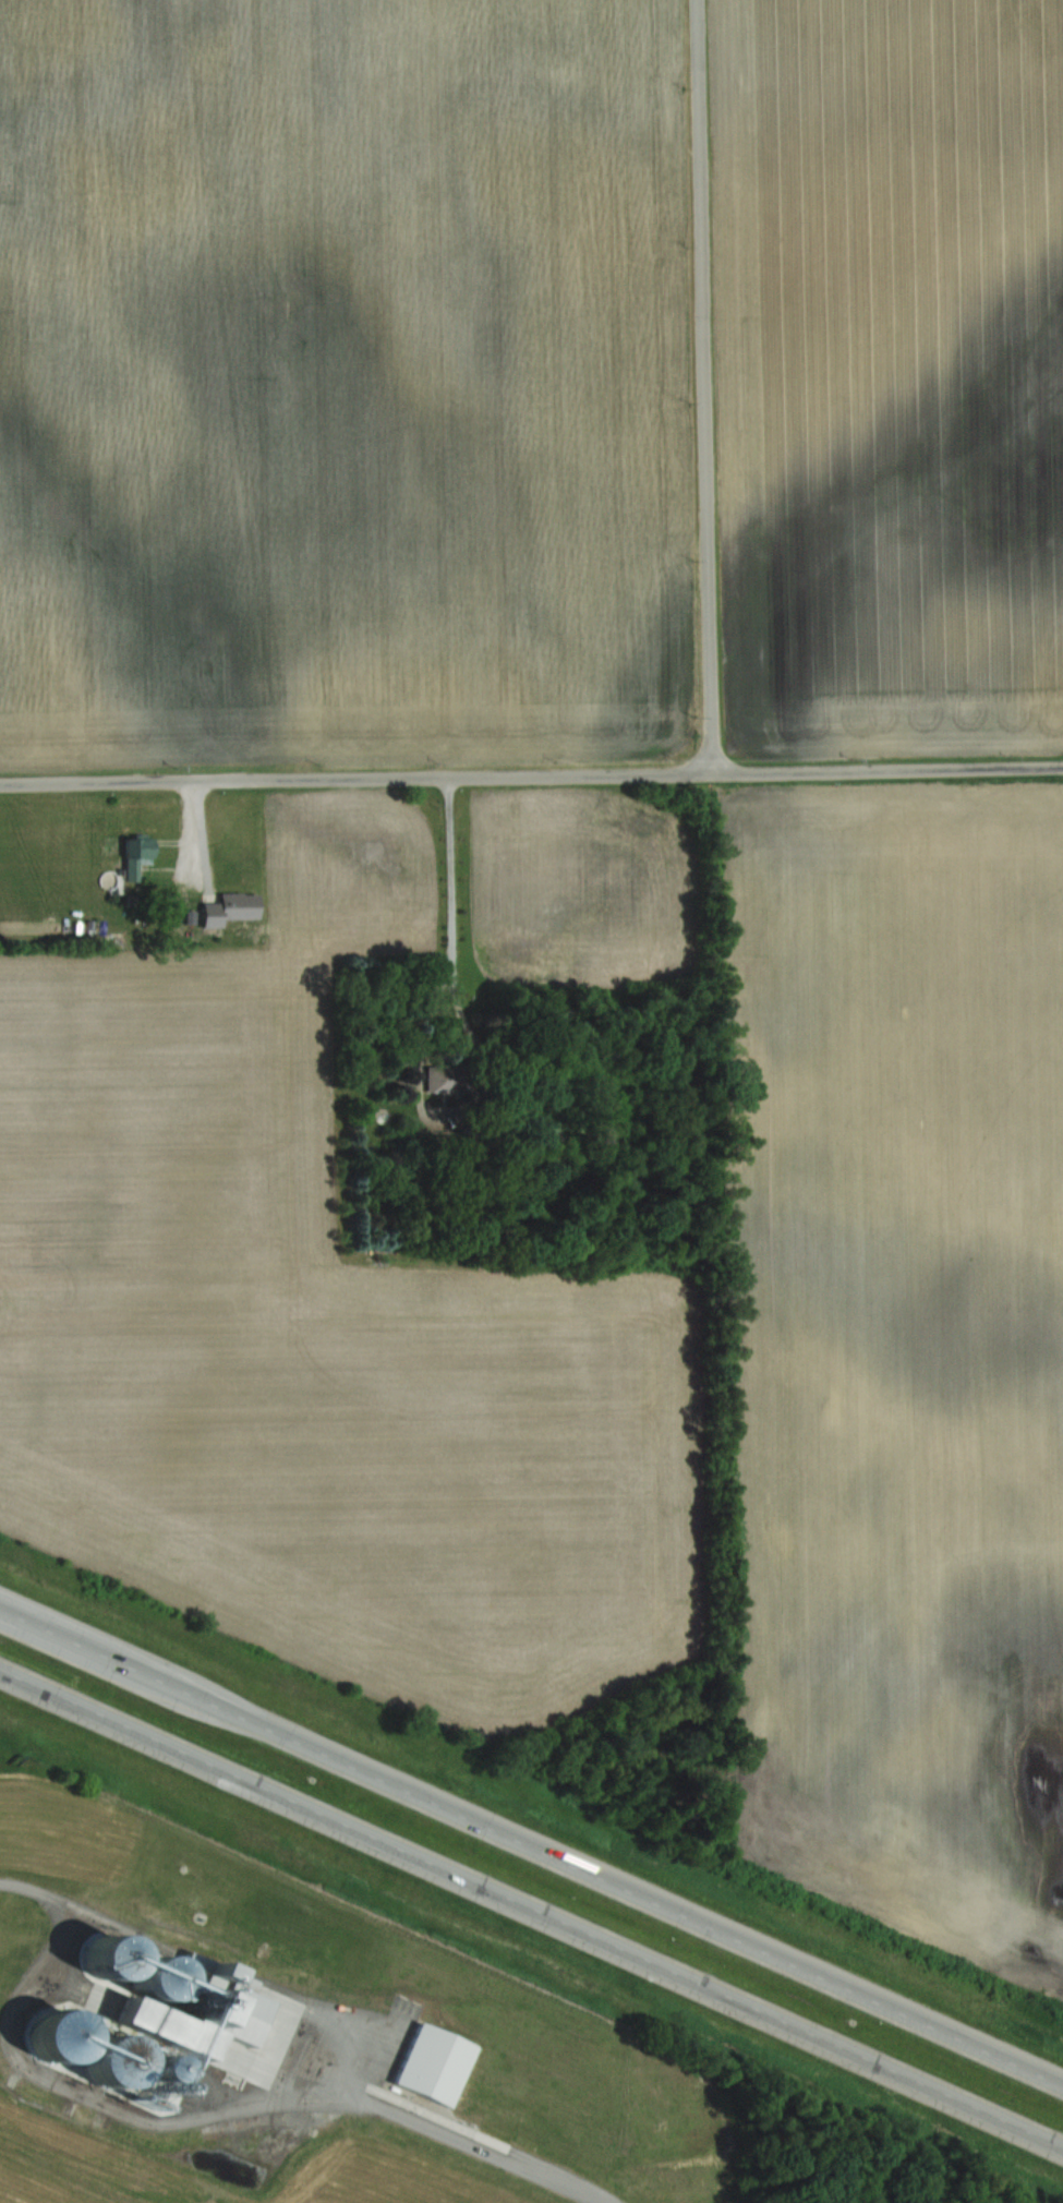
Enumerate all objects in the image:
road: (706, 386)
road: (531, 775)
building: (135, 853)
building: (228, 906)
road: (415, 1039)
road: (531, 1844)
road: (76, 1902)
road: (531, 1905)
road: (484, 2146)

